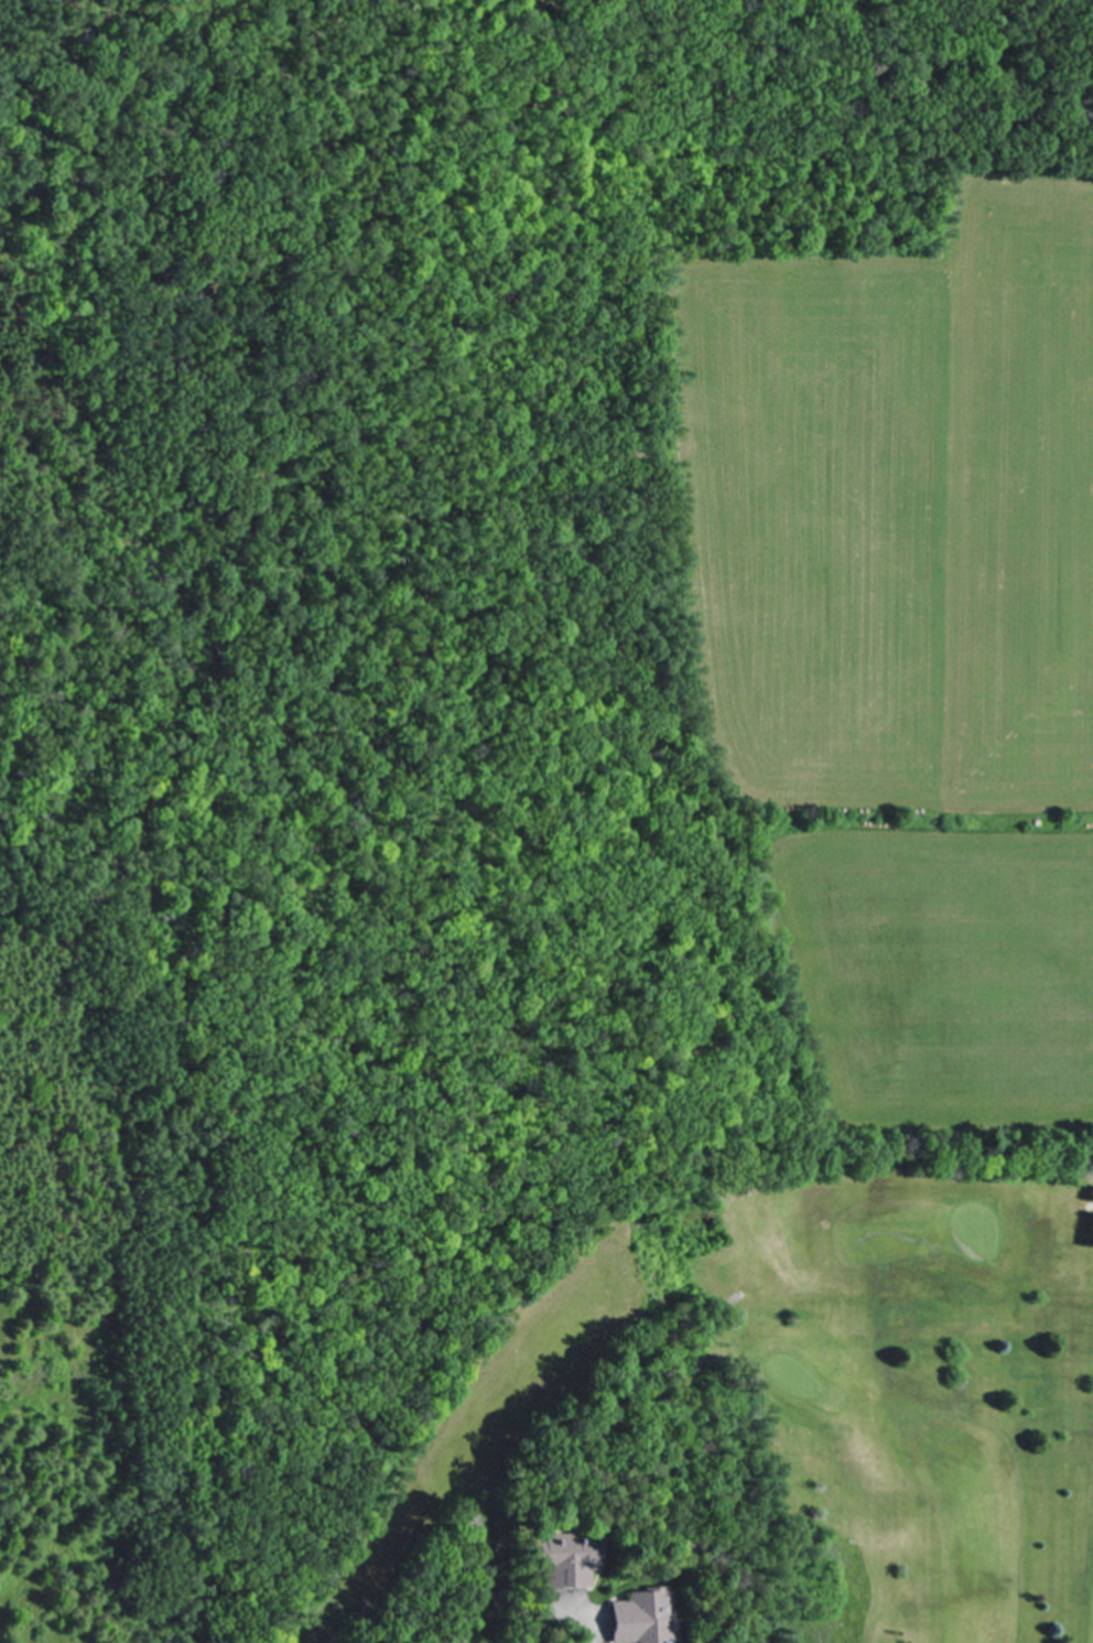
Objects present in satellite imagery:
park: (630, 1398)
building: (562, 1558)
building: (636, 1618)

